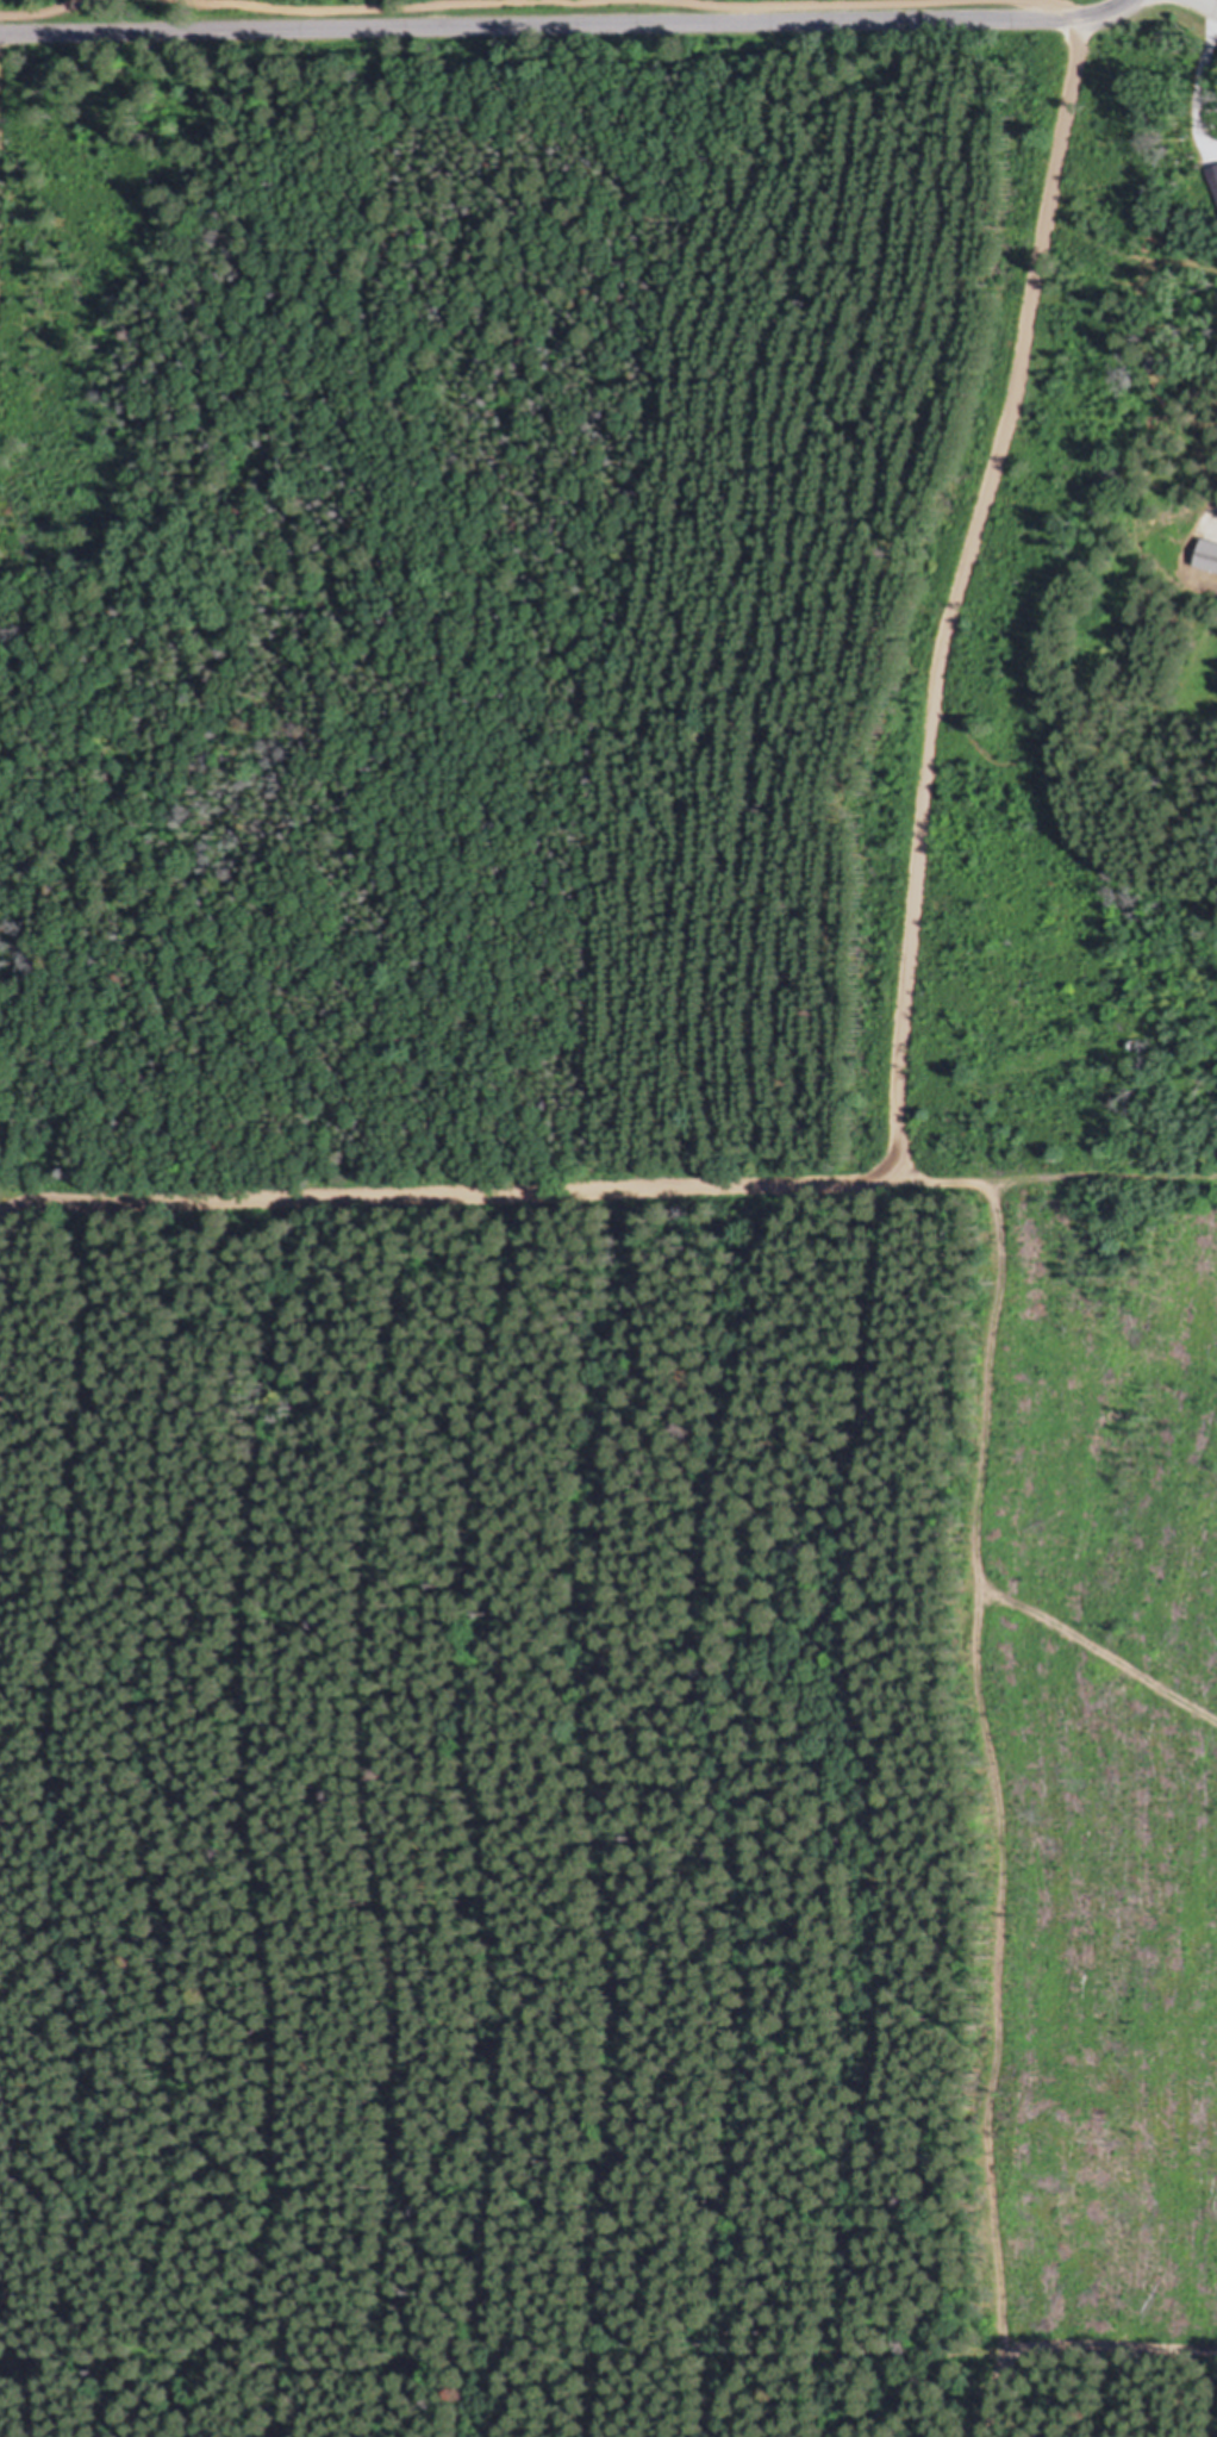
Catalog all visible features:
road: (569, 0)
road: (158, 2)
road: (1211, 2)
road: (780, 4)
road: (374, 5)
road: (1056, 8)
road: (51, 13)
road: (570, 25)
road: (1200, 88)
road: (2, 113)
building: (1215, 174)
building: (1209, 555)
road: (904, 1049)
road: (1055, 1179)
road: (2, 1218)
road: (1099, 1652)
road: (999, 1808)
road: (607, 2351)

